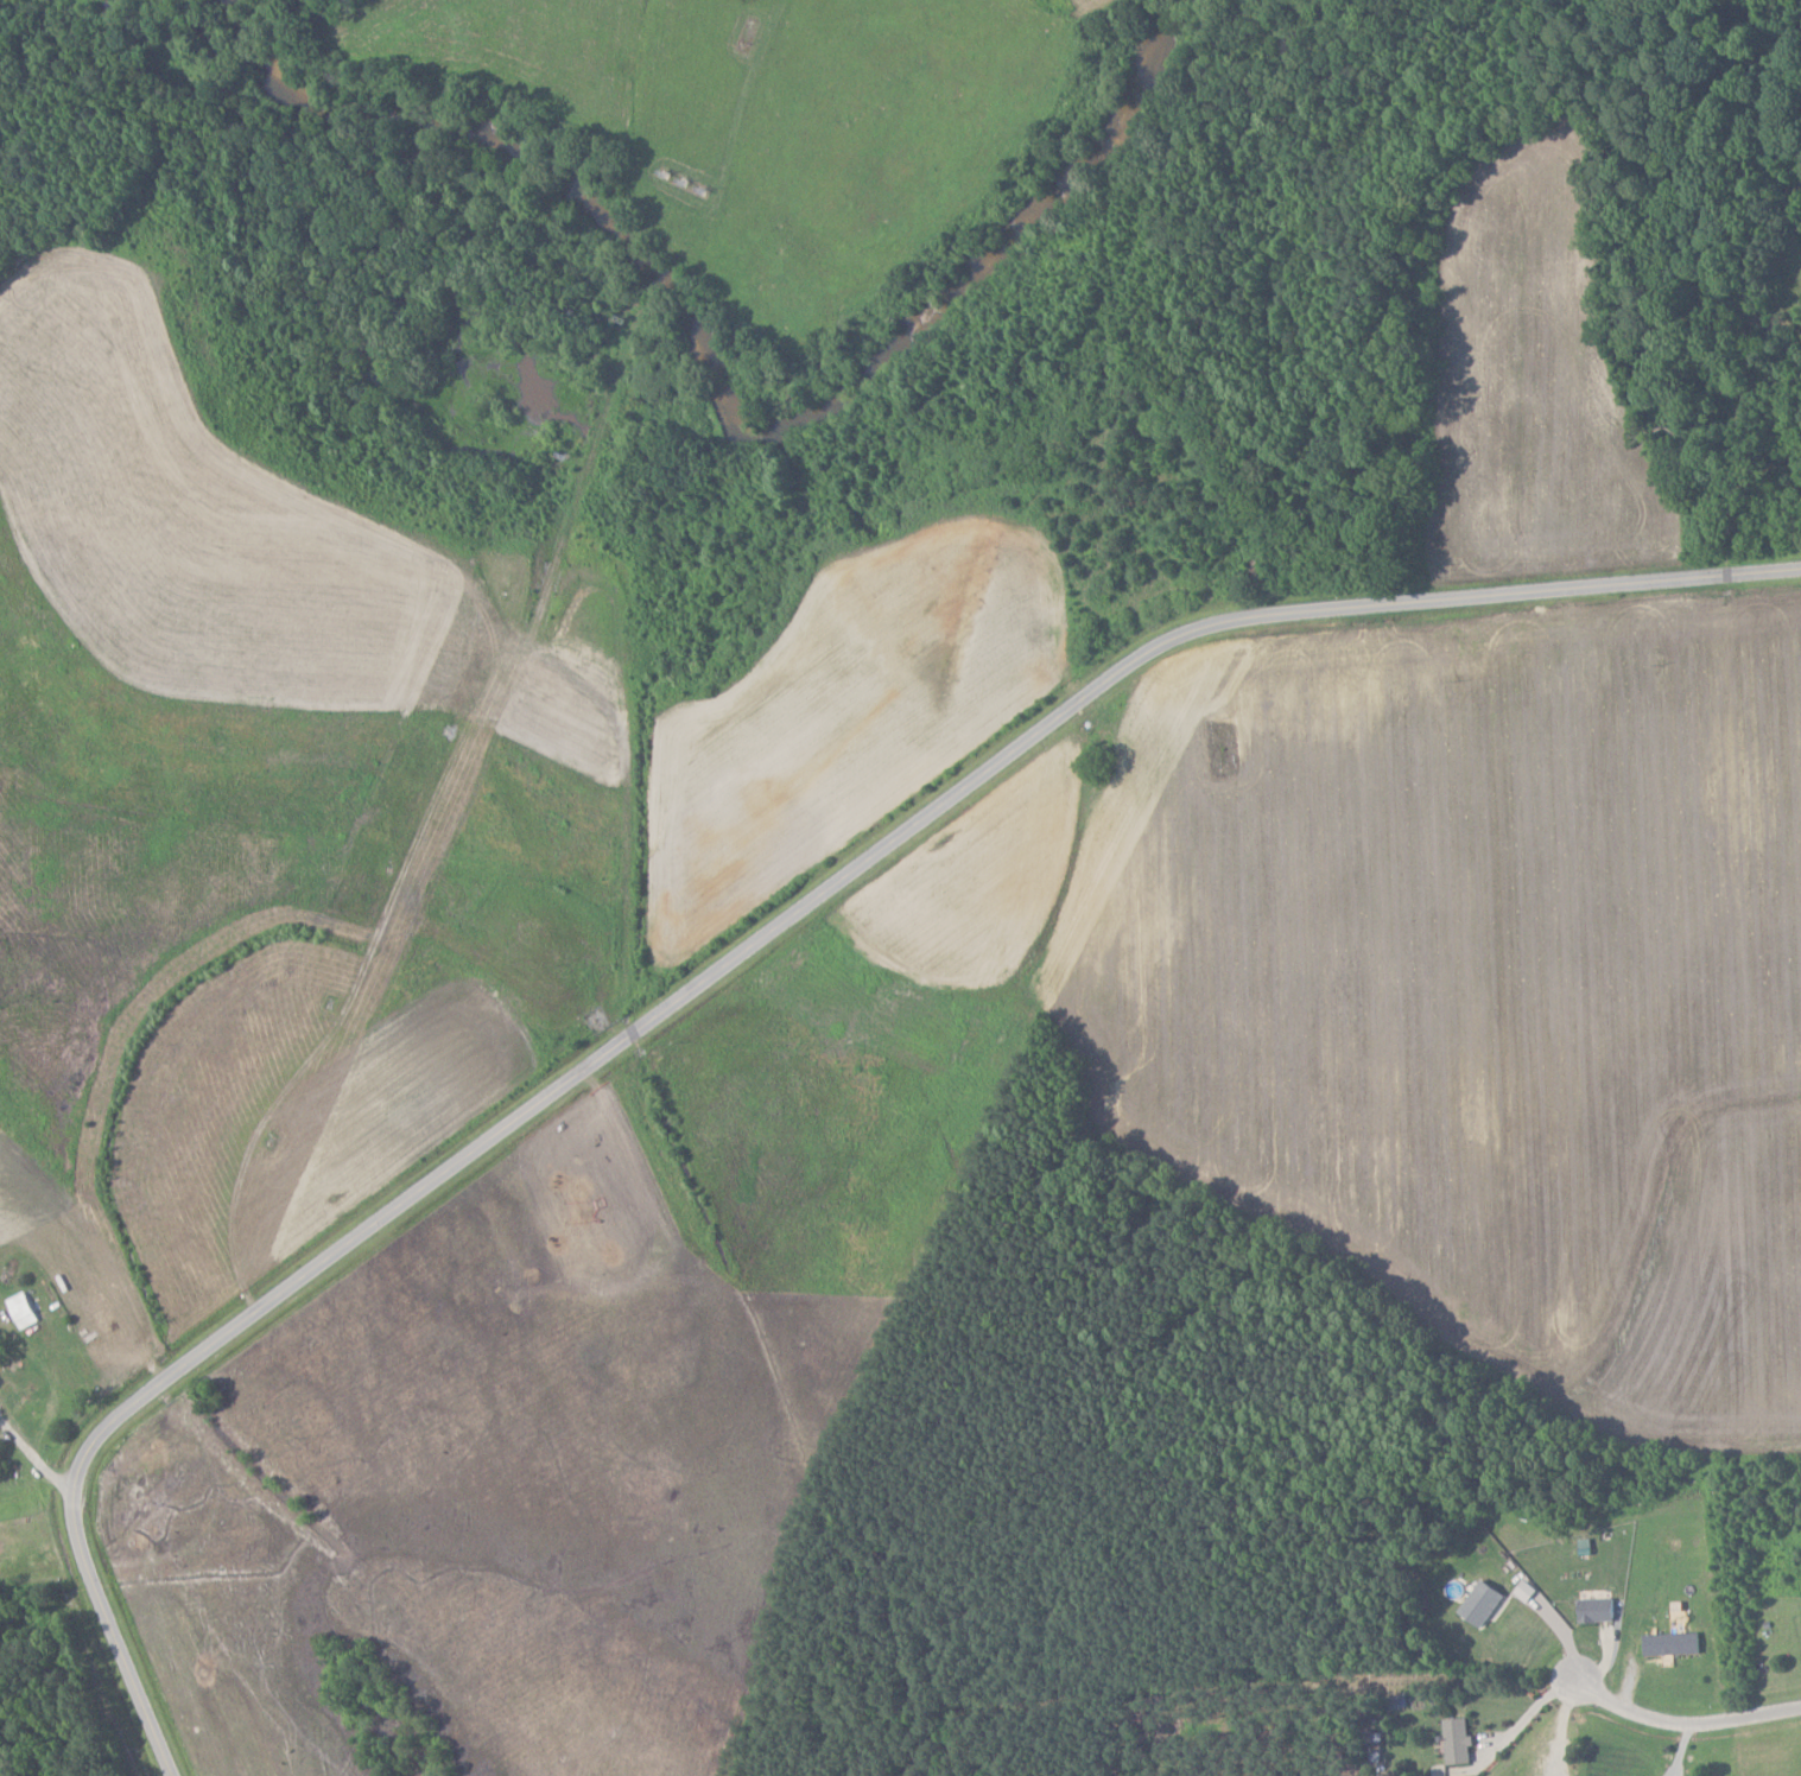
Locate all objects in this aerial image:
airport: (763, 128)
park: (1222, 747)
road: (740, 953)
building: (24, 1309)
road: (34, 1458)
building: (1483, 1603)
building: (1598, 1610)
building: (1673, 1644)
road: (1528, 1713)
road: (1685, 1721)
building: (1459, 1742)

